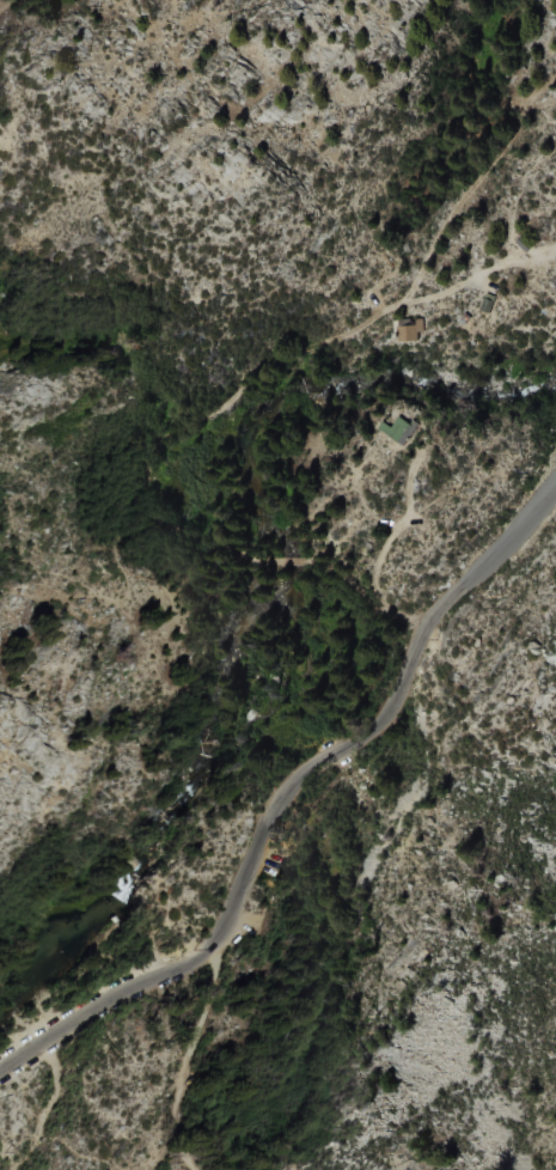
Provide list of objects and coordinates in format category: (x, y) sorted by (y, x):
road: (7, 6)
road: (470, 182)
road: (477, 272)
building: (485, 300)
building: (411, 334)
road: (215, 413)
building: (395, 433)
road: (390, 528)
road: (275, 562)
road: (83, 590)
road: (363, 593)
road: (288, 794)
parking lot: (261, 891)
parking lot: (96, 992)
parking lot: (71, 1038)
road: (185, 1055)

